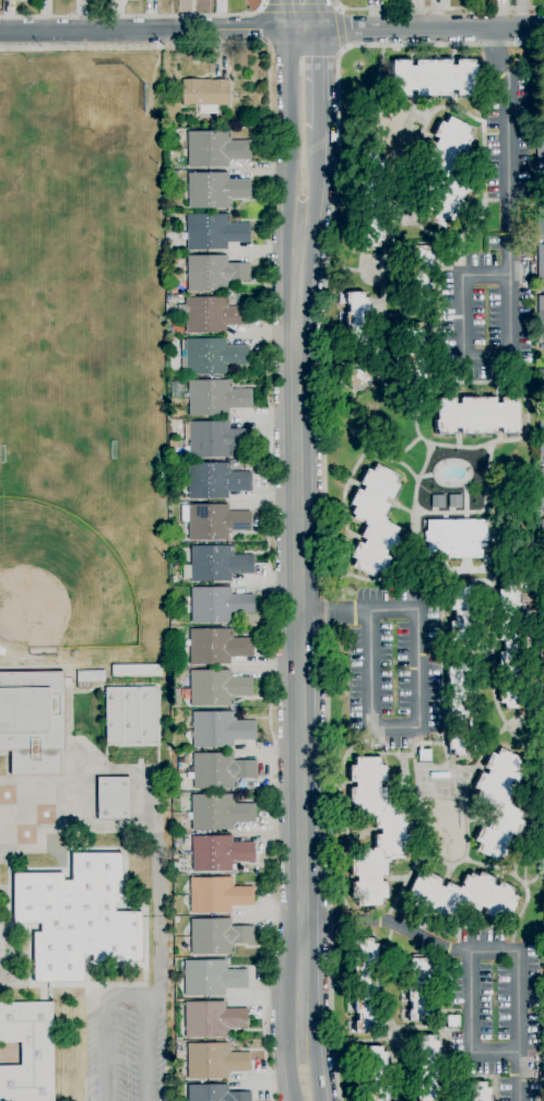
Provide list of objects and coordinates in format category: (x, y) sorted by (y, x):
road: (300, 8)
road: (437, 8)
road: (303, 14)
road: (135, 15)
road: (424, 27)
road: (152, 29)
road: (341, 31)
road: (158, 36)
road: (80, 47)
building: (434, 78)
road: (314, 80)
building: (205, 94)
road: (377, 99)
park: (94, 115)
road: (294, 120)
building: (236, 122)
road: (365, 123)
road: (422, 129)
building: (540, 143)
building: (215, 149)
road: (389, 164)
building: (448, 171)
road: (315, 176)
building: (215, 190)
building: (369, 200)
building: (540, 217)
road: (416, 223)
building: (214, 232)
building: (541, 264)
road: (354, 270)
building: (213, 273)
road: (507, 276)
building: (418, 280)
building: (212, 315)
building: (541, 315)
road: (377, 333)
building: (357, 341)
building: (415, 355)
building: (212, 356)
building: (540, 378)
road: (426, 391)
building: (215, 398)
building: (478, 415)
road: (347, 428)
building: (541, 436)
building: (215, 439)
road: (410, 443)
road: (428, 448)
road: (322, 474)
road: (347, 476)
building: (215, 481)
building: (542, 487)
road: (423, 511)
building: (375, 520)
building: (215, 522)
building: (456, 538)
building: (542, 540)
building: (173, 546)
road: (404, 561)
building: (543, 563)
building: (215, 564)
road: (272, 572)
road: (434, 590)
park: (60, 591)
building: (217, 605)
building: (466, 615)
road: (298, 629)
building: (216, 647)
building: (513, 649)
road: (456, 651)
building: (137, 671)
building: (91, 676)
building: (217, 687)
road: (417, 691)
building: (464, 708)
building: (130, 718)
building: (32, 721)
building: (220, 729)
road: (493, 738)
road: (414, 741)
road: (357, 742)
building: (424, 755)
road: (343, 757)
road: (442, 769)
building: (220, 770)
building: (114, 798)
building: (498, 804)
building: (218, 812)
road: (530, 819)
building: (392, 831)
road: (340, 833)
building: (220, 853)
road: (536, 866)
building: (217, 895)
building: (462, 897)
road: (522, 908)
building: (78, 917)
building: (217, 936)
road: (480, 951)
building: (211, 978)
building: (365, 985)
building: (419, 990)
road: (126, 997)
building: (212, 1019)
building: (452, 1021)
road: (469, 1027)
road: (428, 1028)
road: (360, 1041)
parking lot: (130, 1047)
building: (27, 1052)
building: (214, 1061)
building: (423, 1068)
road: (314, 1072)
road: (293, 1073)
building: (376, 1074)
building: (475, 1091)
building: (214, 1093)

